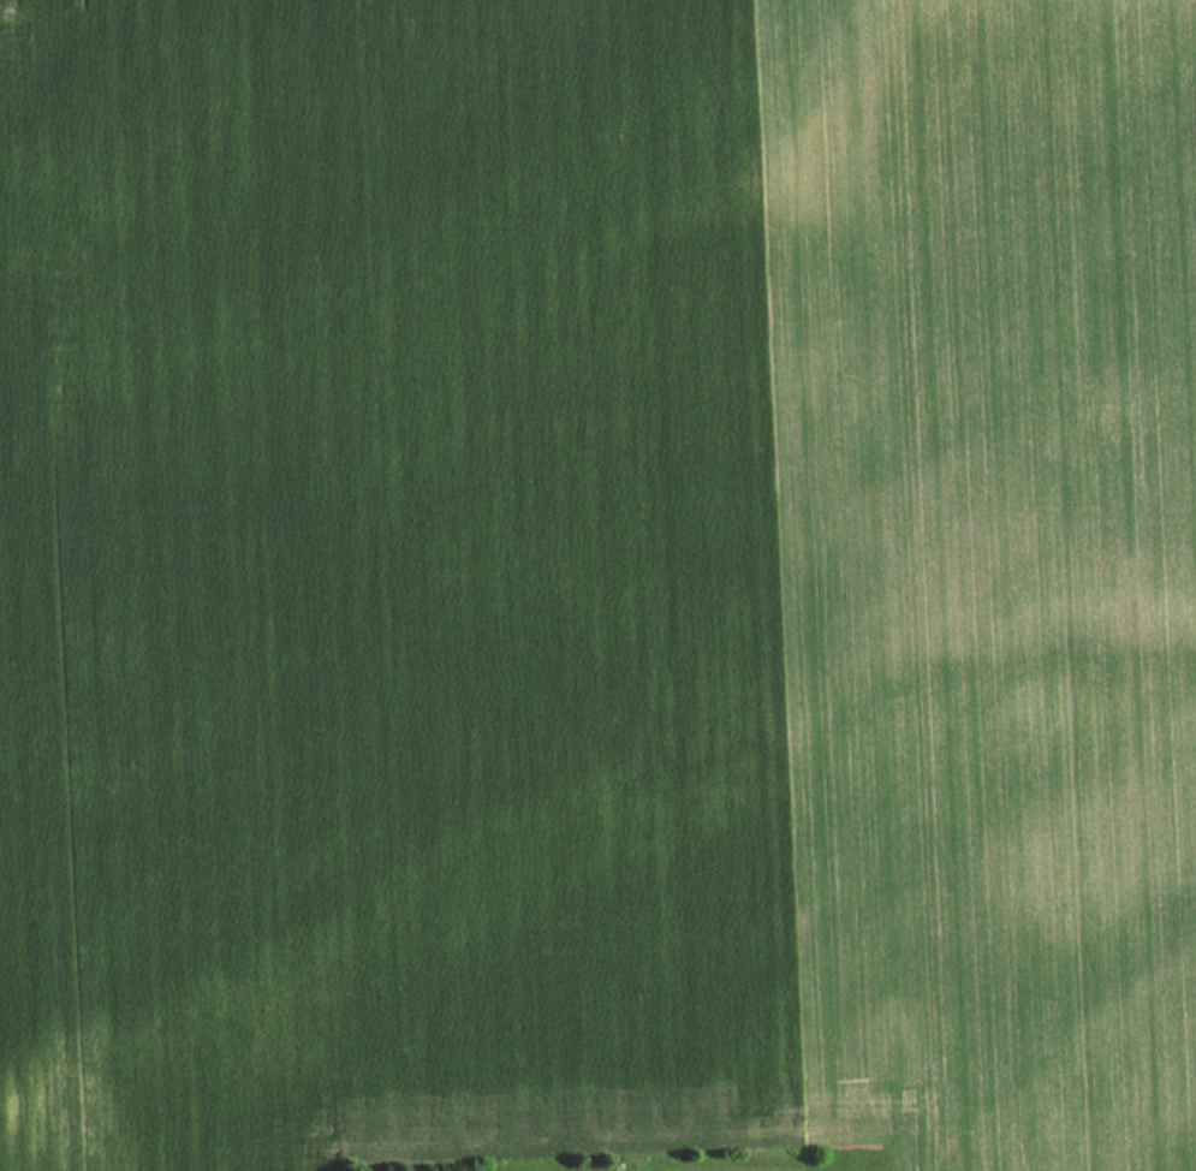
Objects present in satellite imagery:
crop: (986, 572)

